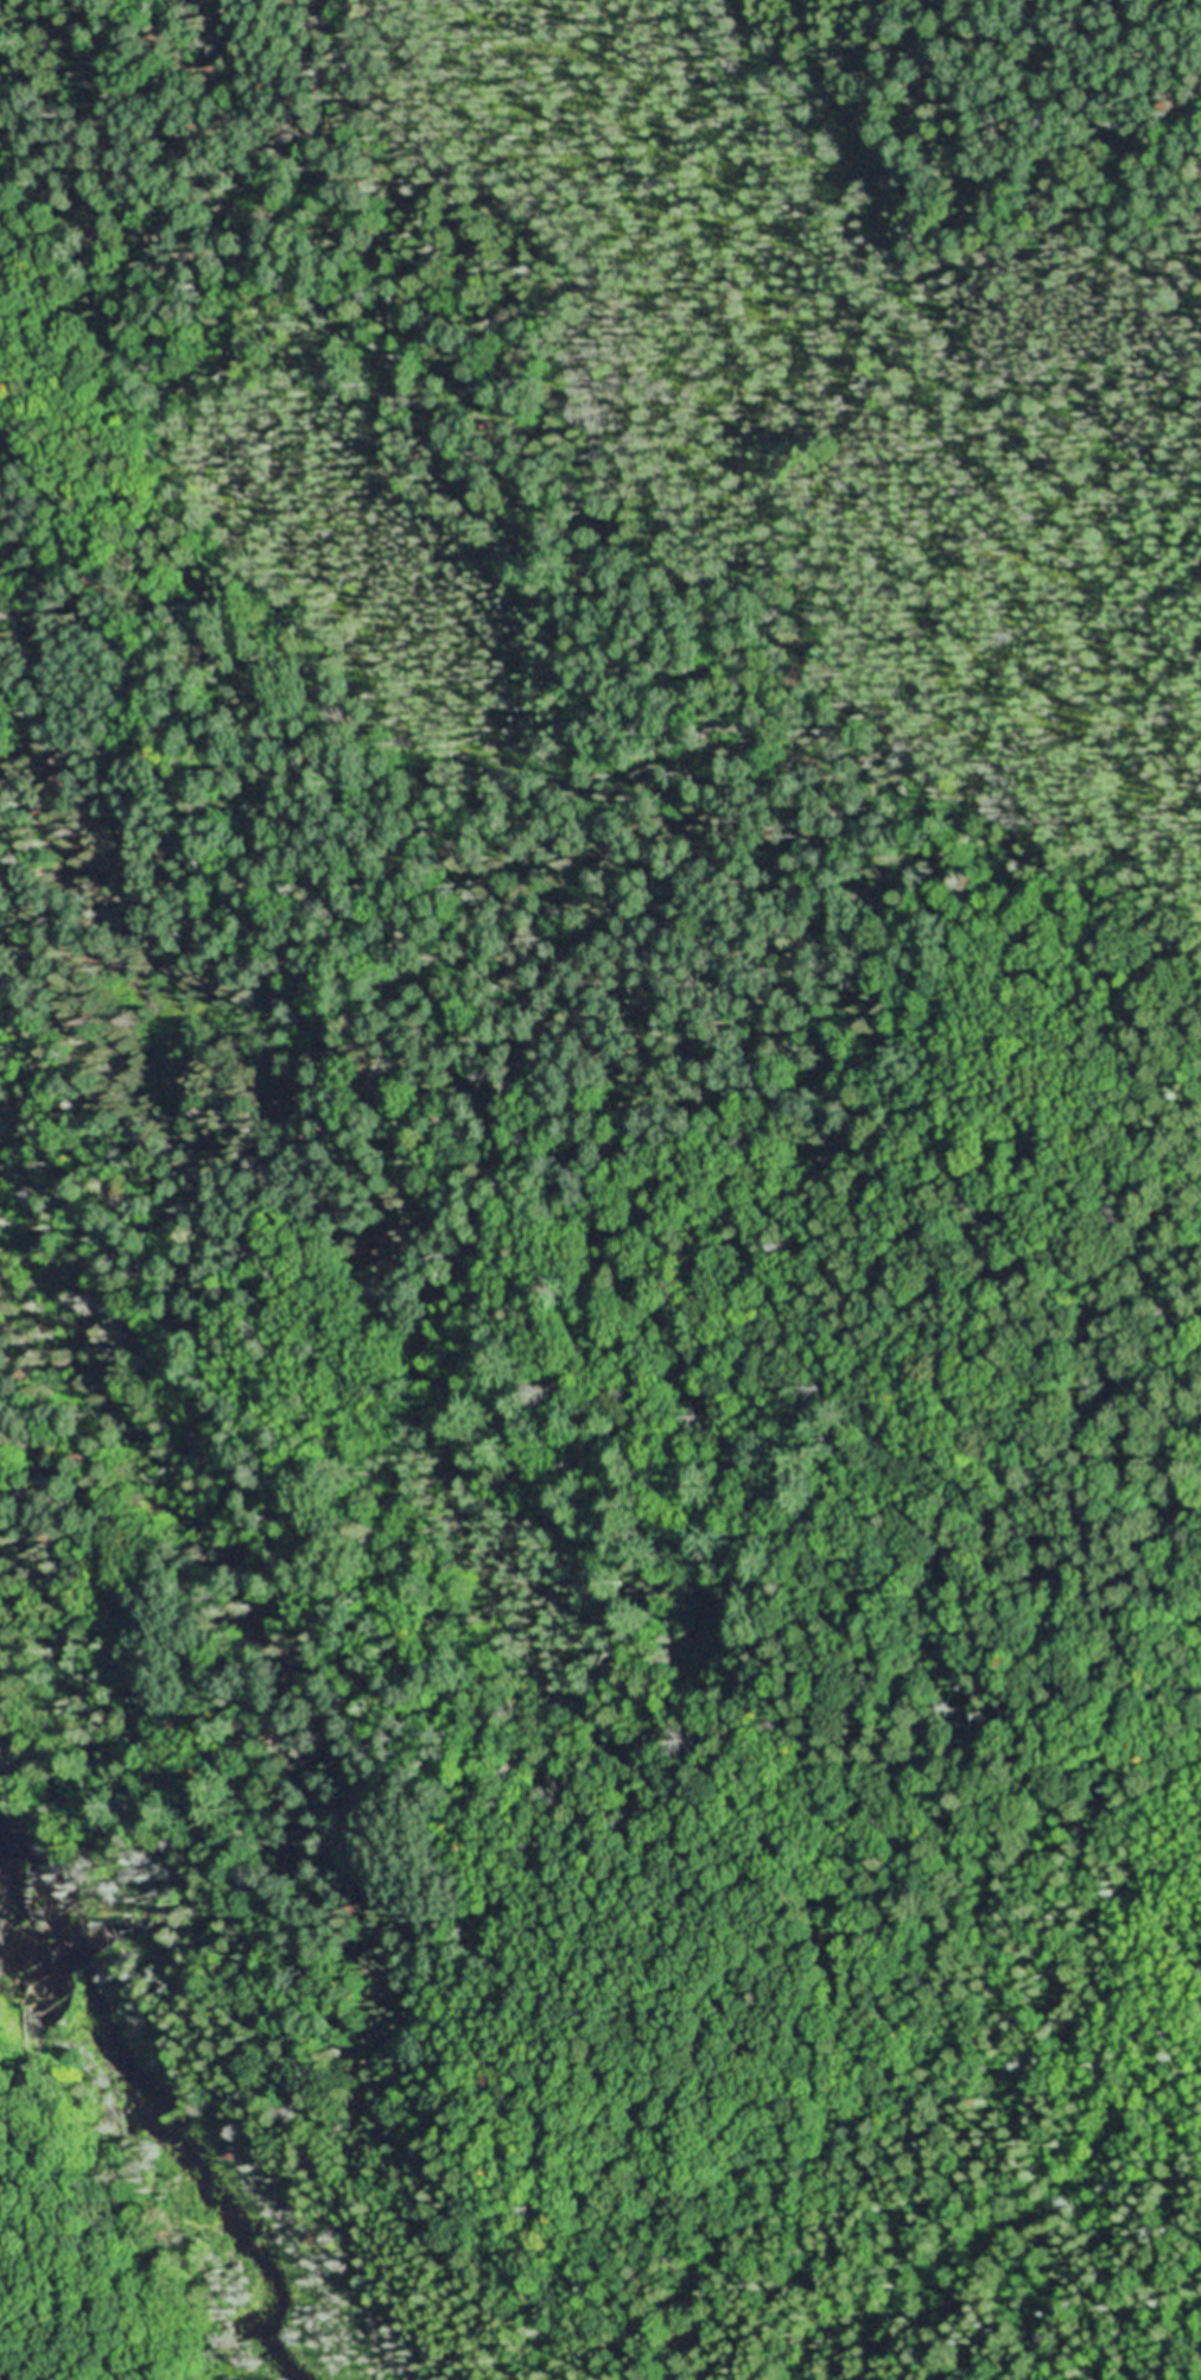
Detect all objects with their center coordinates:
river: (171, 2111)

